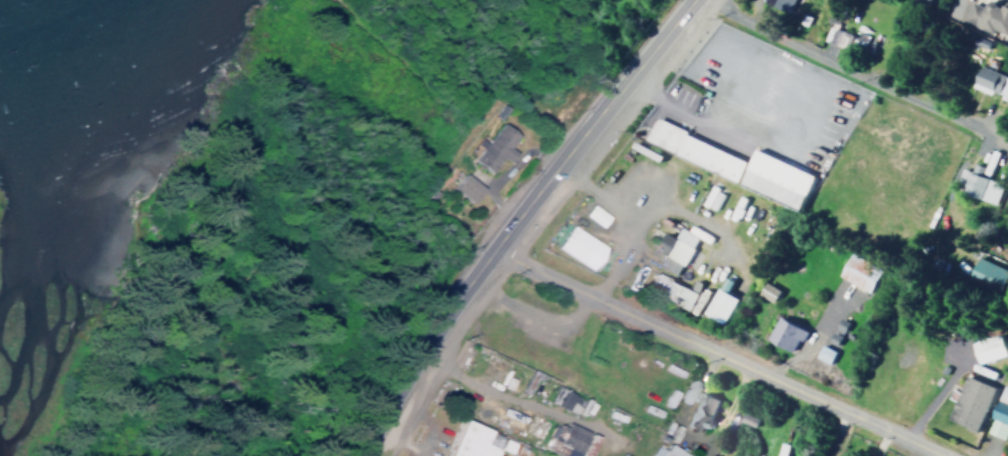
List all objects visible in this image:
building: (926, 0)
building: (778, 4)
building: (987, 16)
building: (843, 39)
road: (858, 70)
building: (990, 82)
building: (492, 146)
building: (732, 165)
building: (977, 186)
building: (464, 187)
road: (513, 221)
building: (677, 243)
building: (580, 247)
building: (857, 272)
building: (985, 274)
building: (670, 291)
building: (765, 292)
building: (717, 305)
building: (782, 334)
building: (987, 348)
road: (722, 351)
building: (822, 354)
building: (561, 399)
building: (968, 403)
building: (699, 411)
building: (998, 414)
building: (745, 419)
building: (468, 440)
building: (568, 440)
building: (664, 451)

